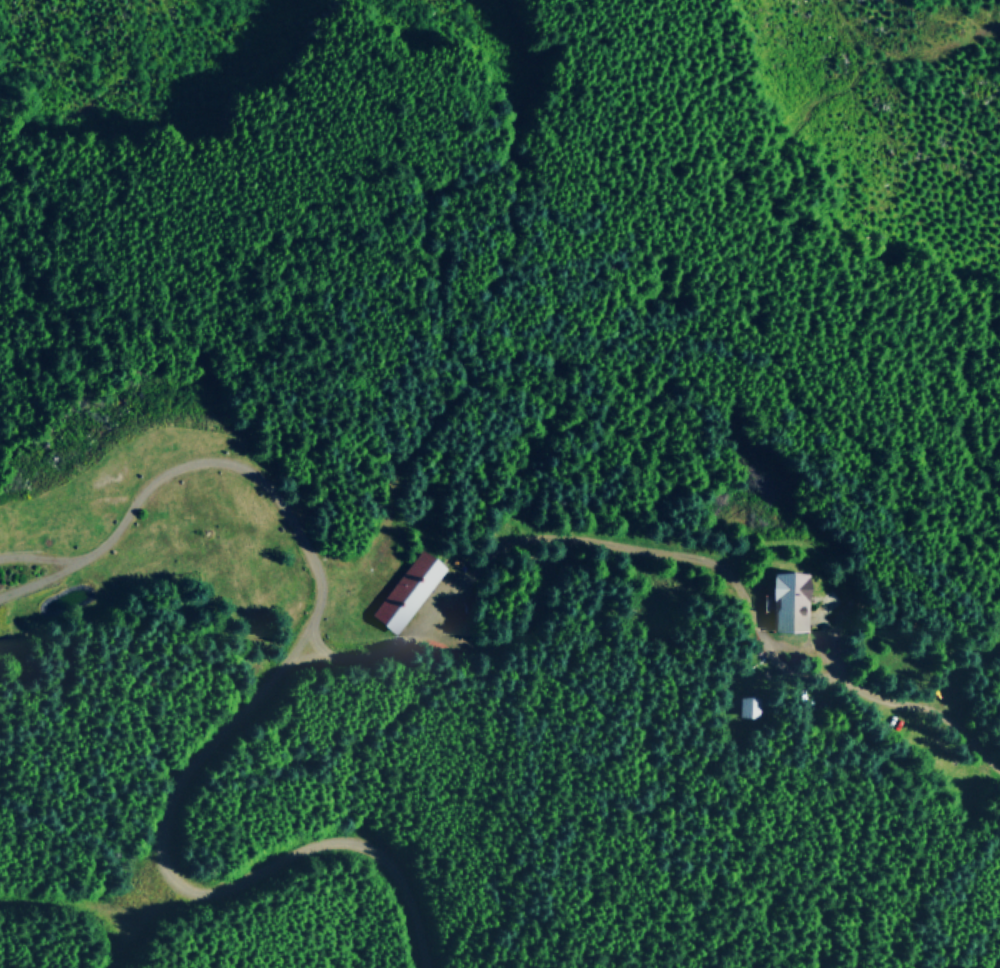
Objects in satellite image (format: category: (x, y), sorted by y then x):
road: (973, 33)
road: (257, 479)
road: (34, 557)
road: (32, 581)
building: (407, 589)
road: (541, 608)
road: (908, 704)
road: (175, 797)
road: (345, 839)
road: (104, 912)

